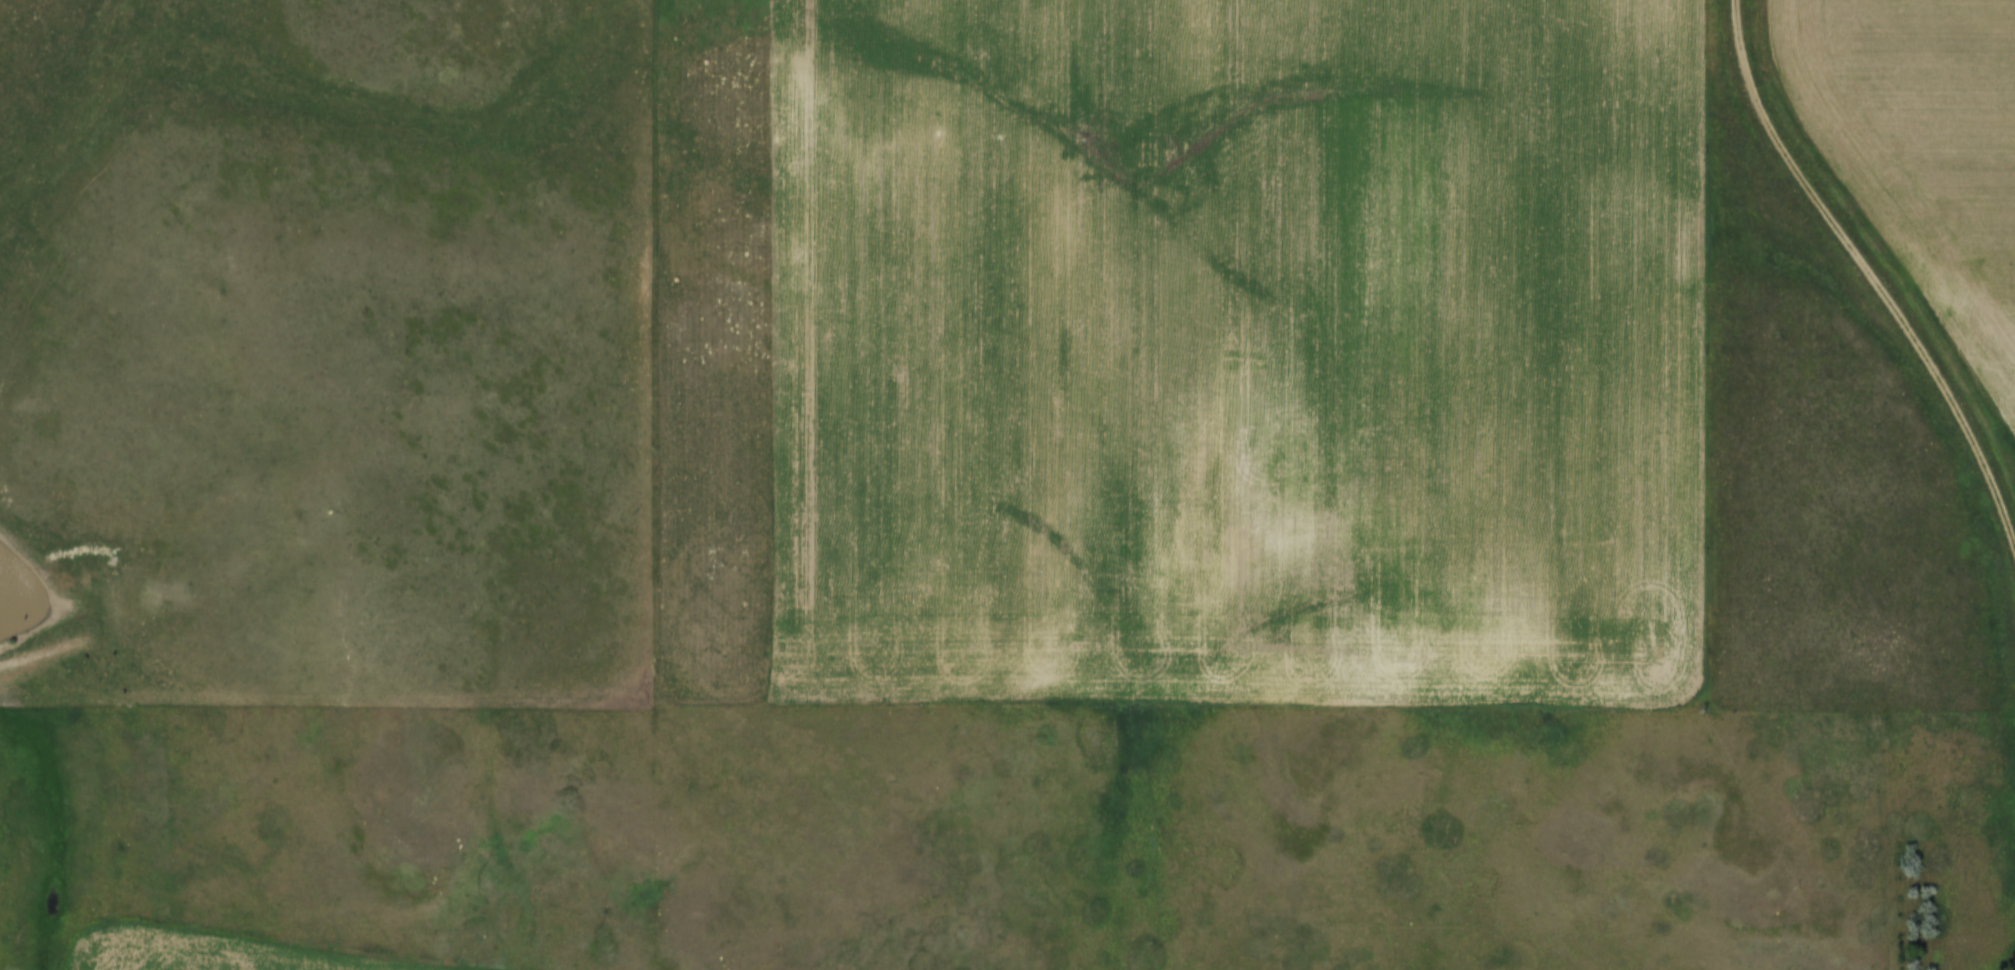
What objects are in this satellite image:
road: (1872, 269)

